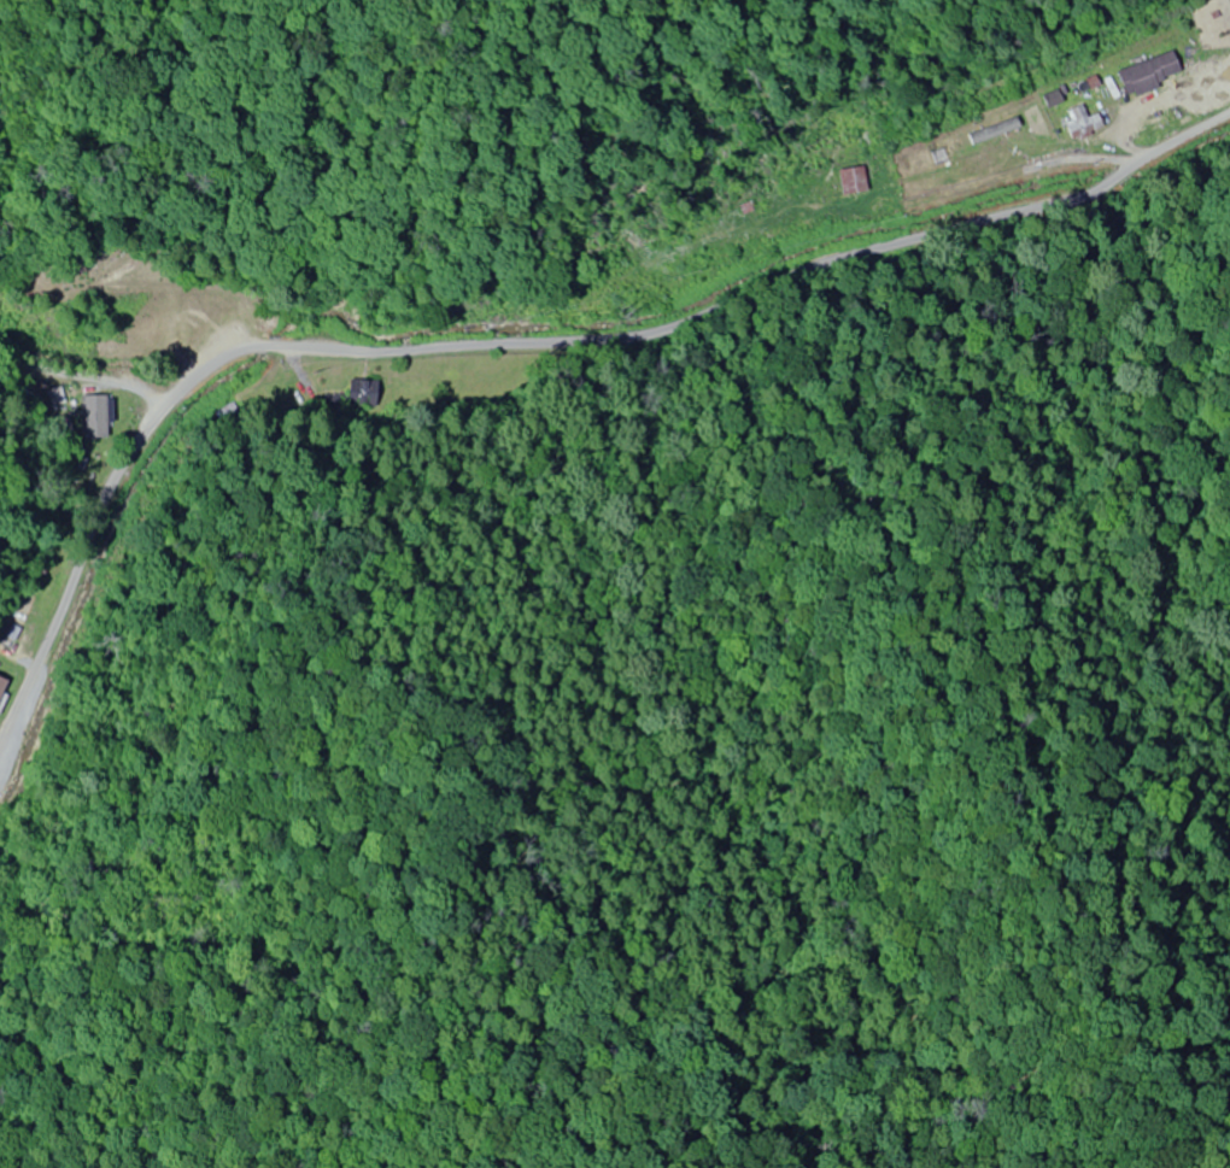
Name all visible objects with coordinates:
building: (1150, 74)
building: (1083, 124)
building: (853, 182)
road: (532, 356)
building: (57, 397)
building: (100, 419)
building: (2, 686)

